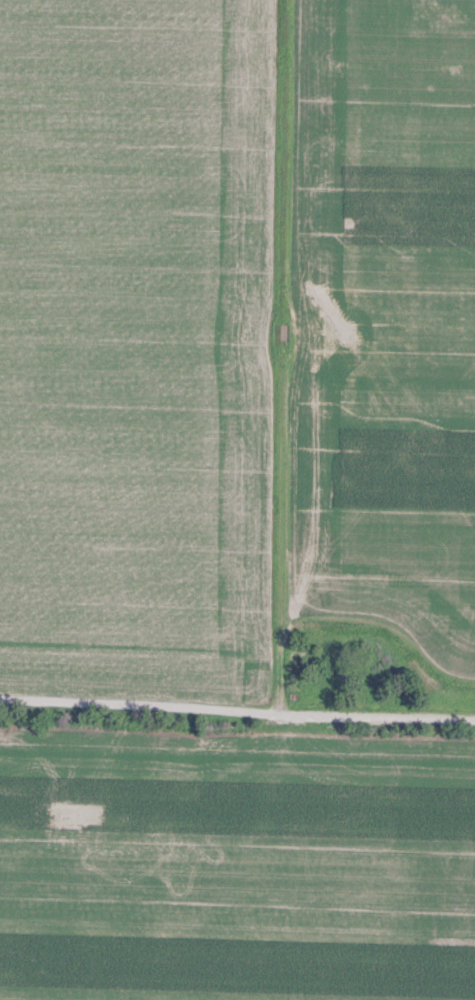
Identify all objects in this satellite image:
road: (237, 711)

